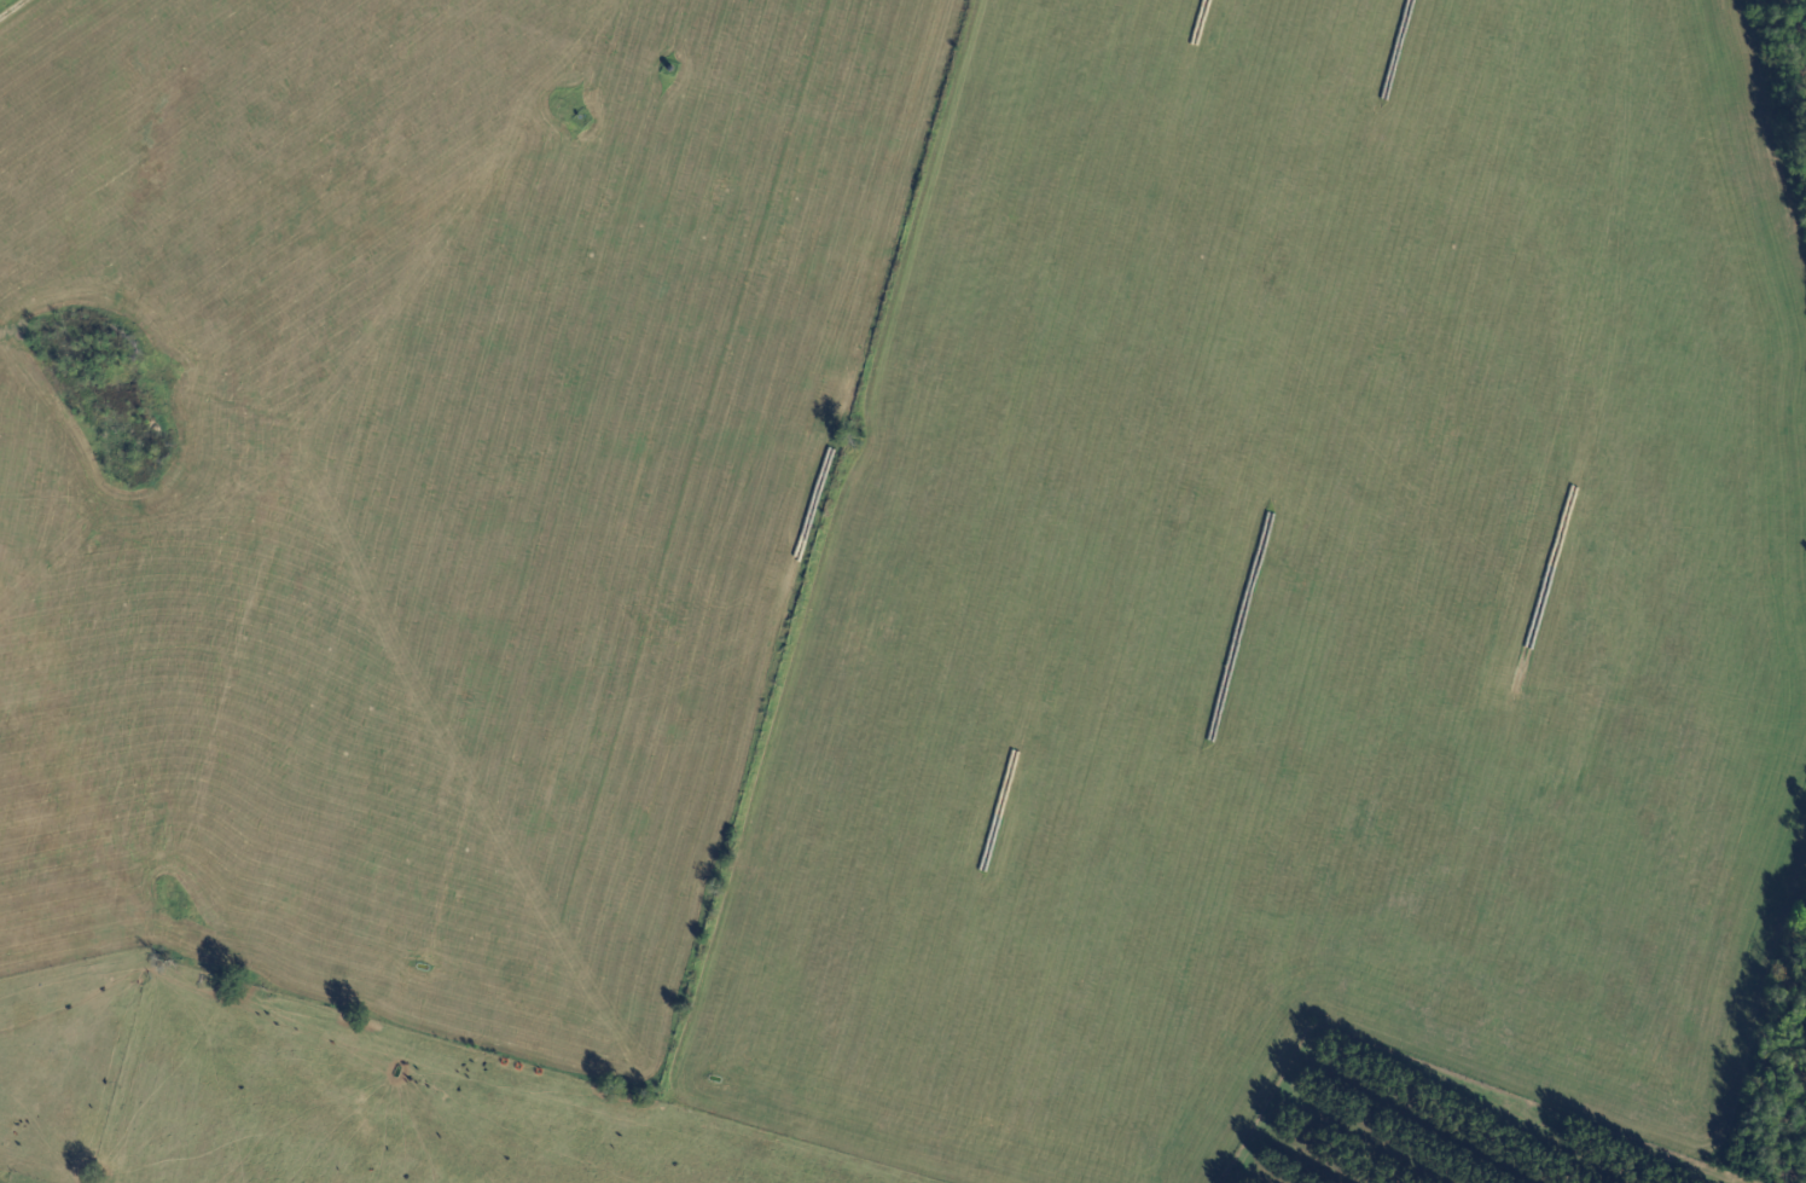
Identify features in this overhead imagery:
road: (16, 11)
crop: (383, 1106)

